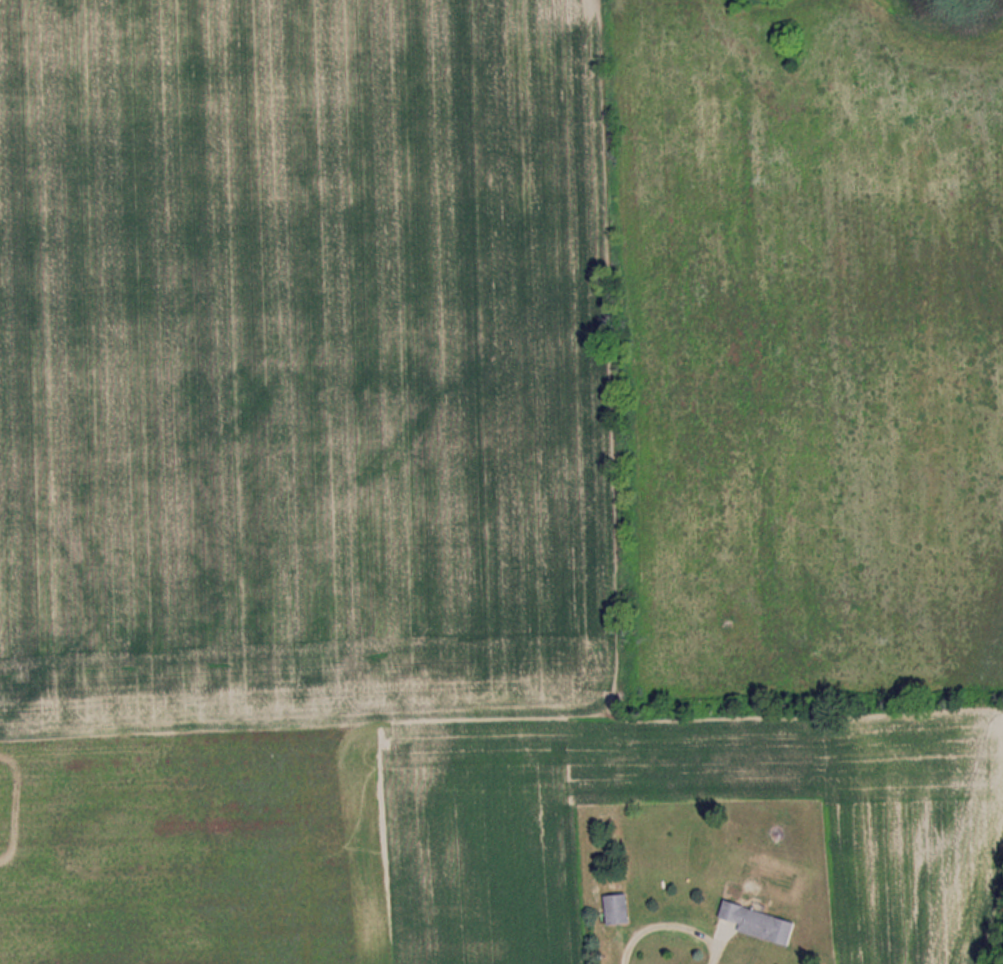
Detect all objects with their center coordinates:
building: (620, 909)
building: (763, 923)

